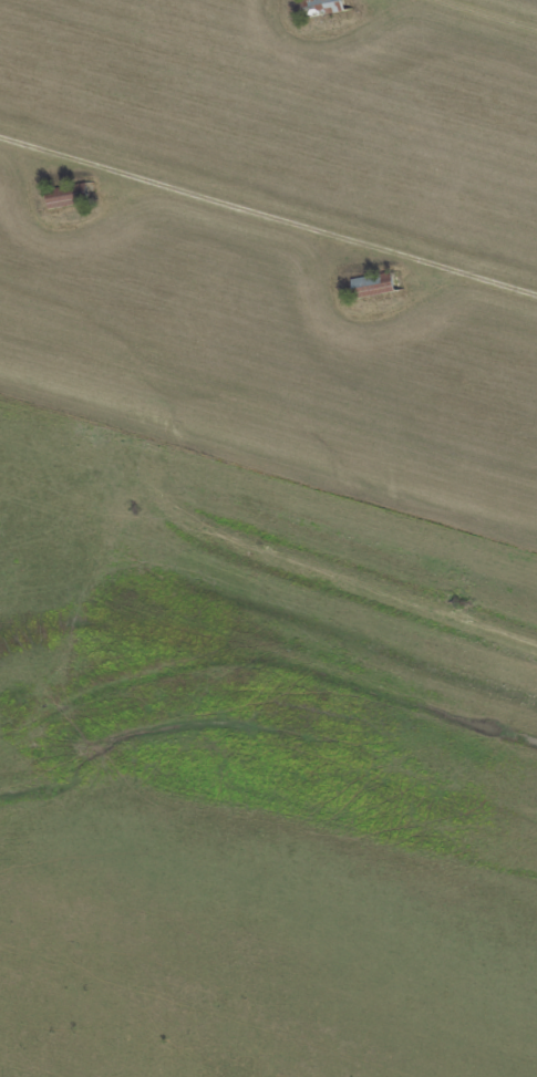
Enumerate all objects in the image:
building: (323, 6)
road: (496, 11)
building: (69, 194)
road: (268, 217)
building: (373, 283)

